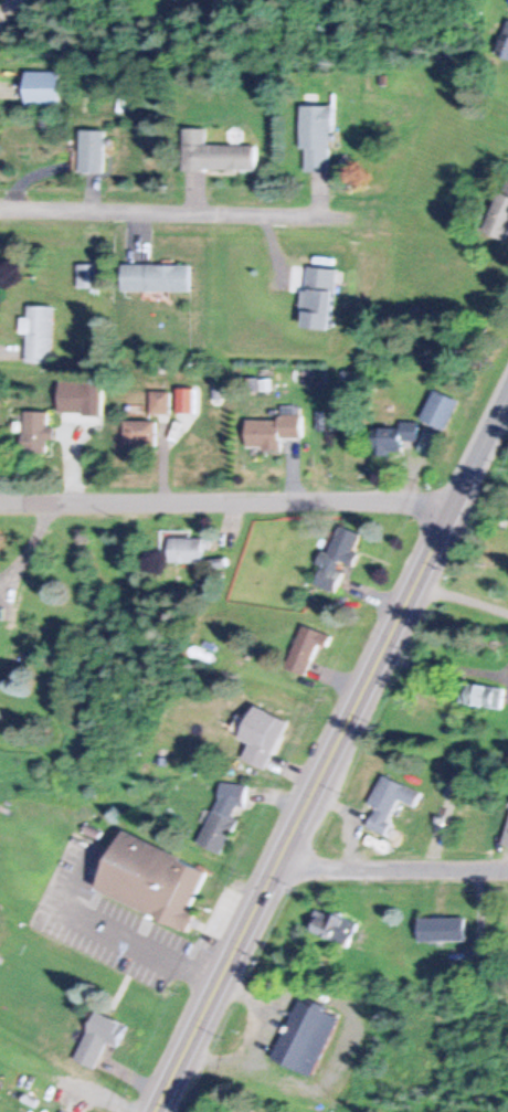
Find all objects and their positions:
road: (13, 10)
building: (504, 41)
building: (41, 86)
building: (315, 136)
building: (91, 150)
building: (214, 152)
building: (507, 181)
road: (178, 210)
building: (498, 216)
building: (85, 275)
building: (155, 276)
building: (318, 296)
building: (39, 332)
building: (184, 400)
building: (159, 402)
building: (438, 409)
building: (35, 431)
building: (271, 431)
building: (138, 432)
building: (392, 436)
road: (481, 449)
road: (227, 500)
building: (183, 550)
building: (337, 555)
building: (305, 648)
building: (480, 695)
building: (265, 739)
building: (389, 799)
road: (299, 806)
building: (223, 816)
road: (390, 860)
building: (149, 880)
building: (331, 926)
building: (441, 929)
building: (305, 1037)
building: (98, 1038)
road: (449, 1059)
building: (62, 1111)

